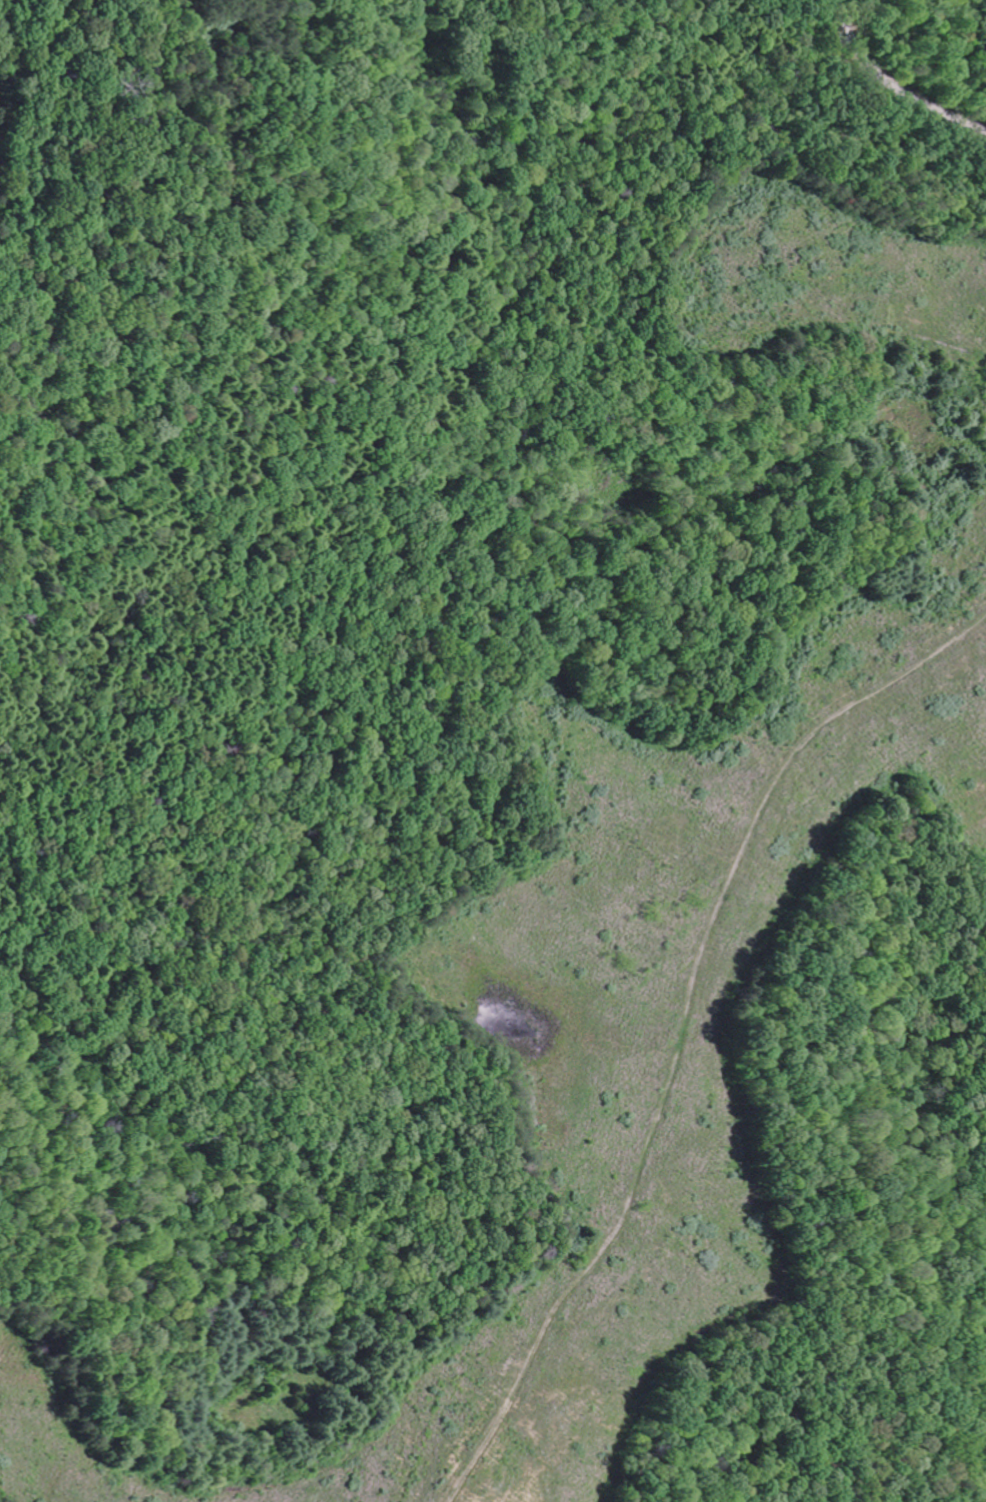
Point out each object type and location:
road: (894, 83)

